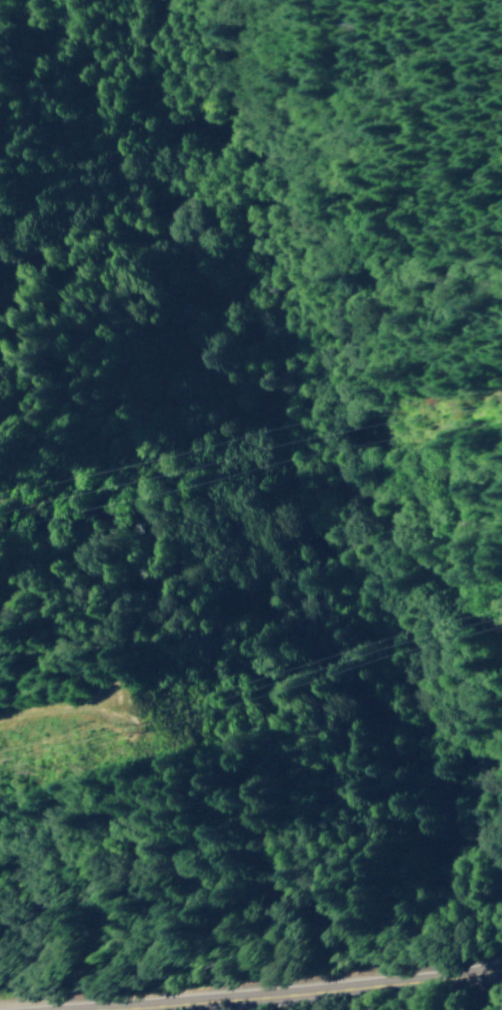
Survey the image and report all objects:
power tower: (144, 730)
road: (303, 989)

